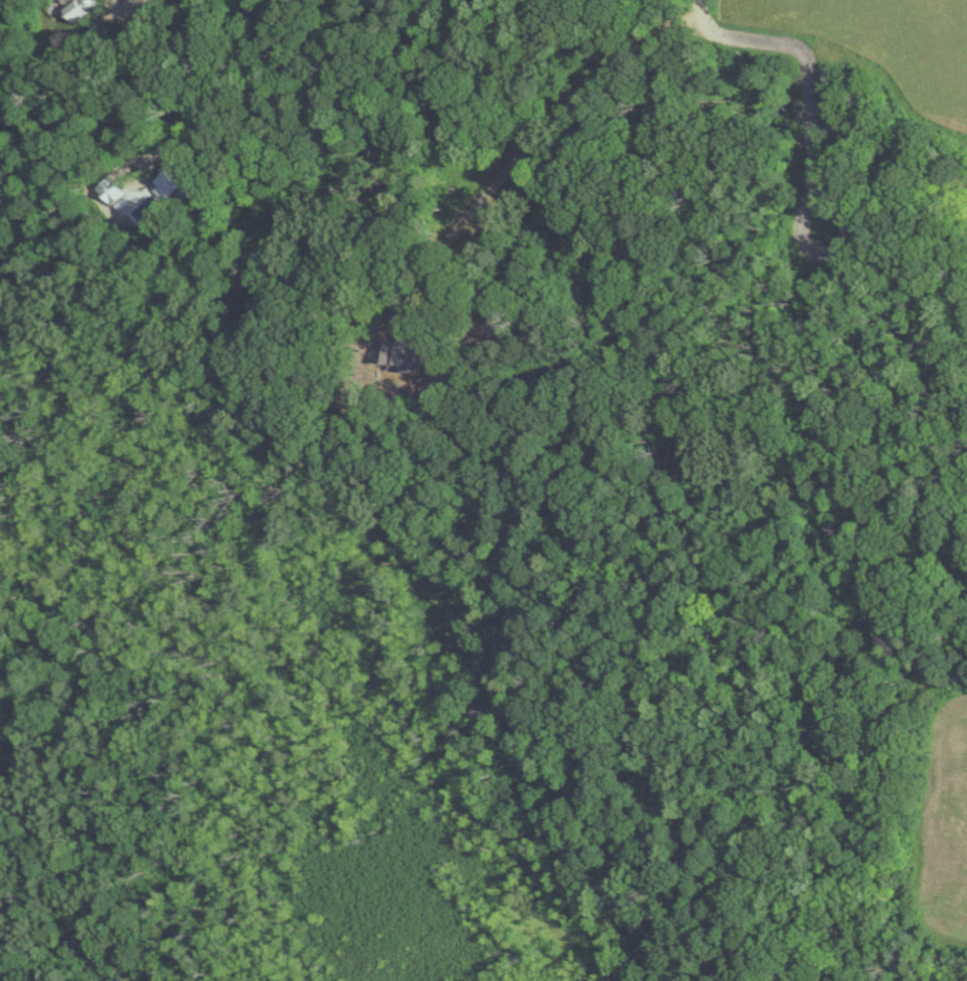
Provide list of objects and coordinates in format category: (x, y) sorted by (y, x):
road: (134, 2)
building: (77, 8)
crop: (882, 46)
road: (227, 71)
road: (807, 78)
road: (534, 133)
crop: (939, 820)

